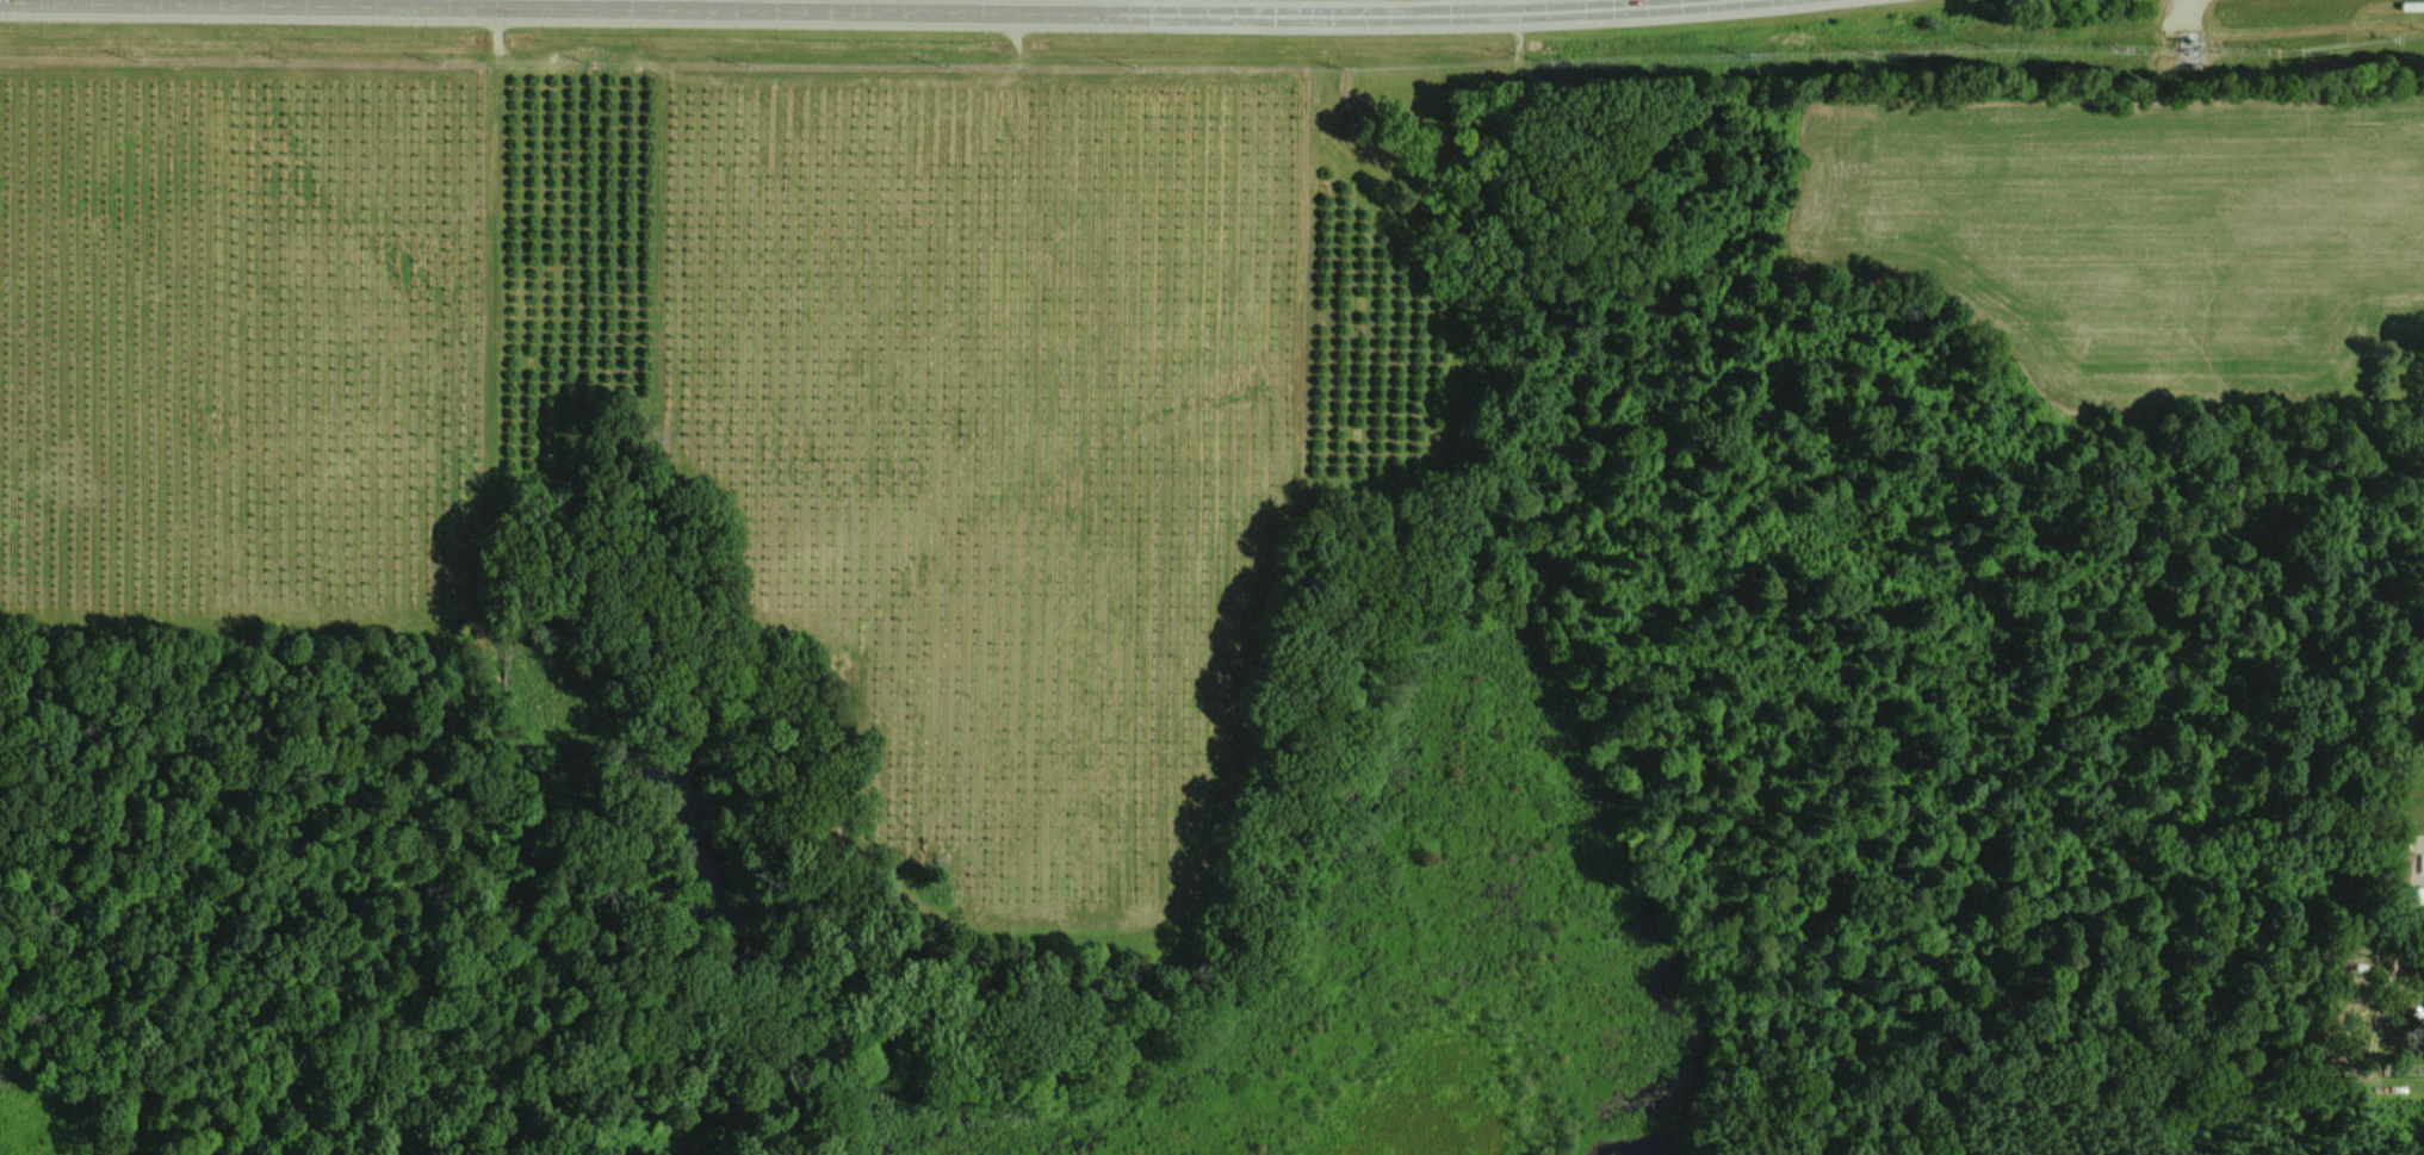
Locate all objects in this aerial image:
road: (467, 2)
road: (1520, 5)
road: (853, 10)
building: (2418, 895)

